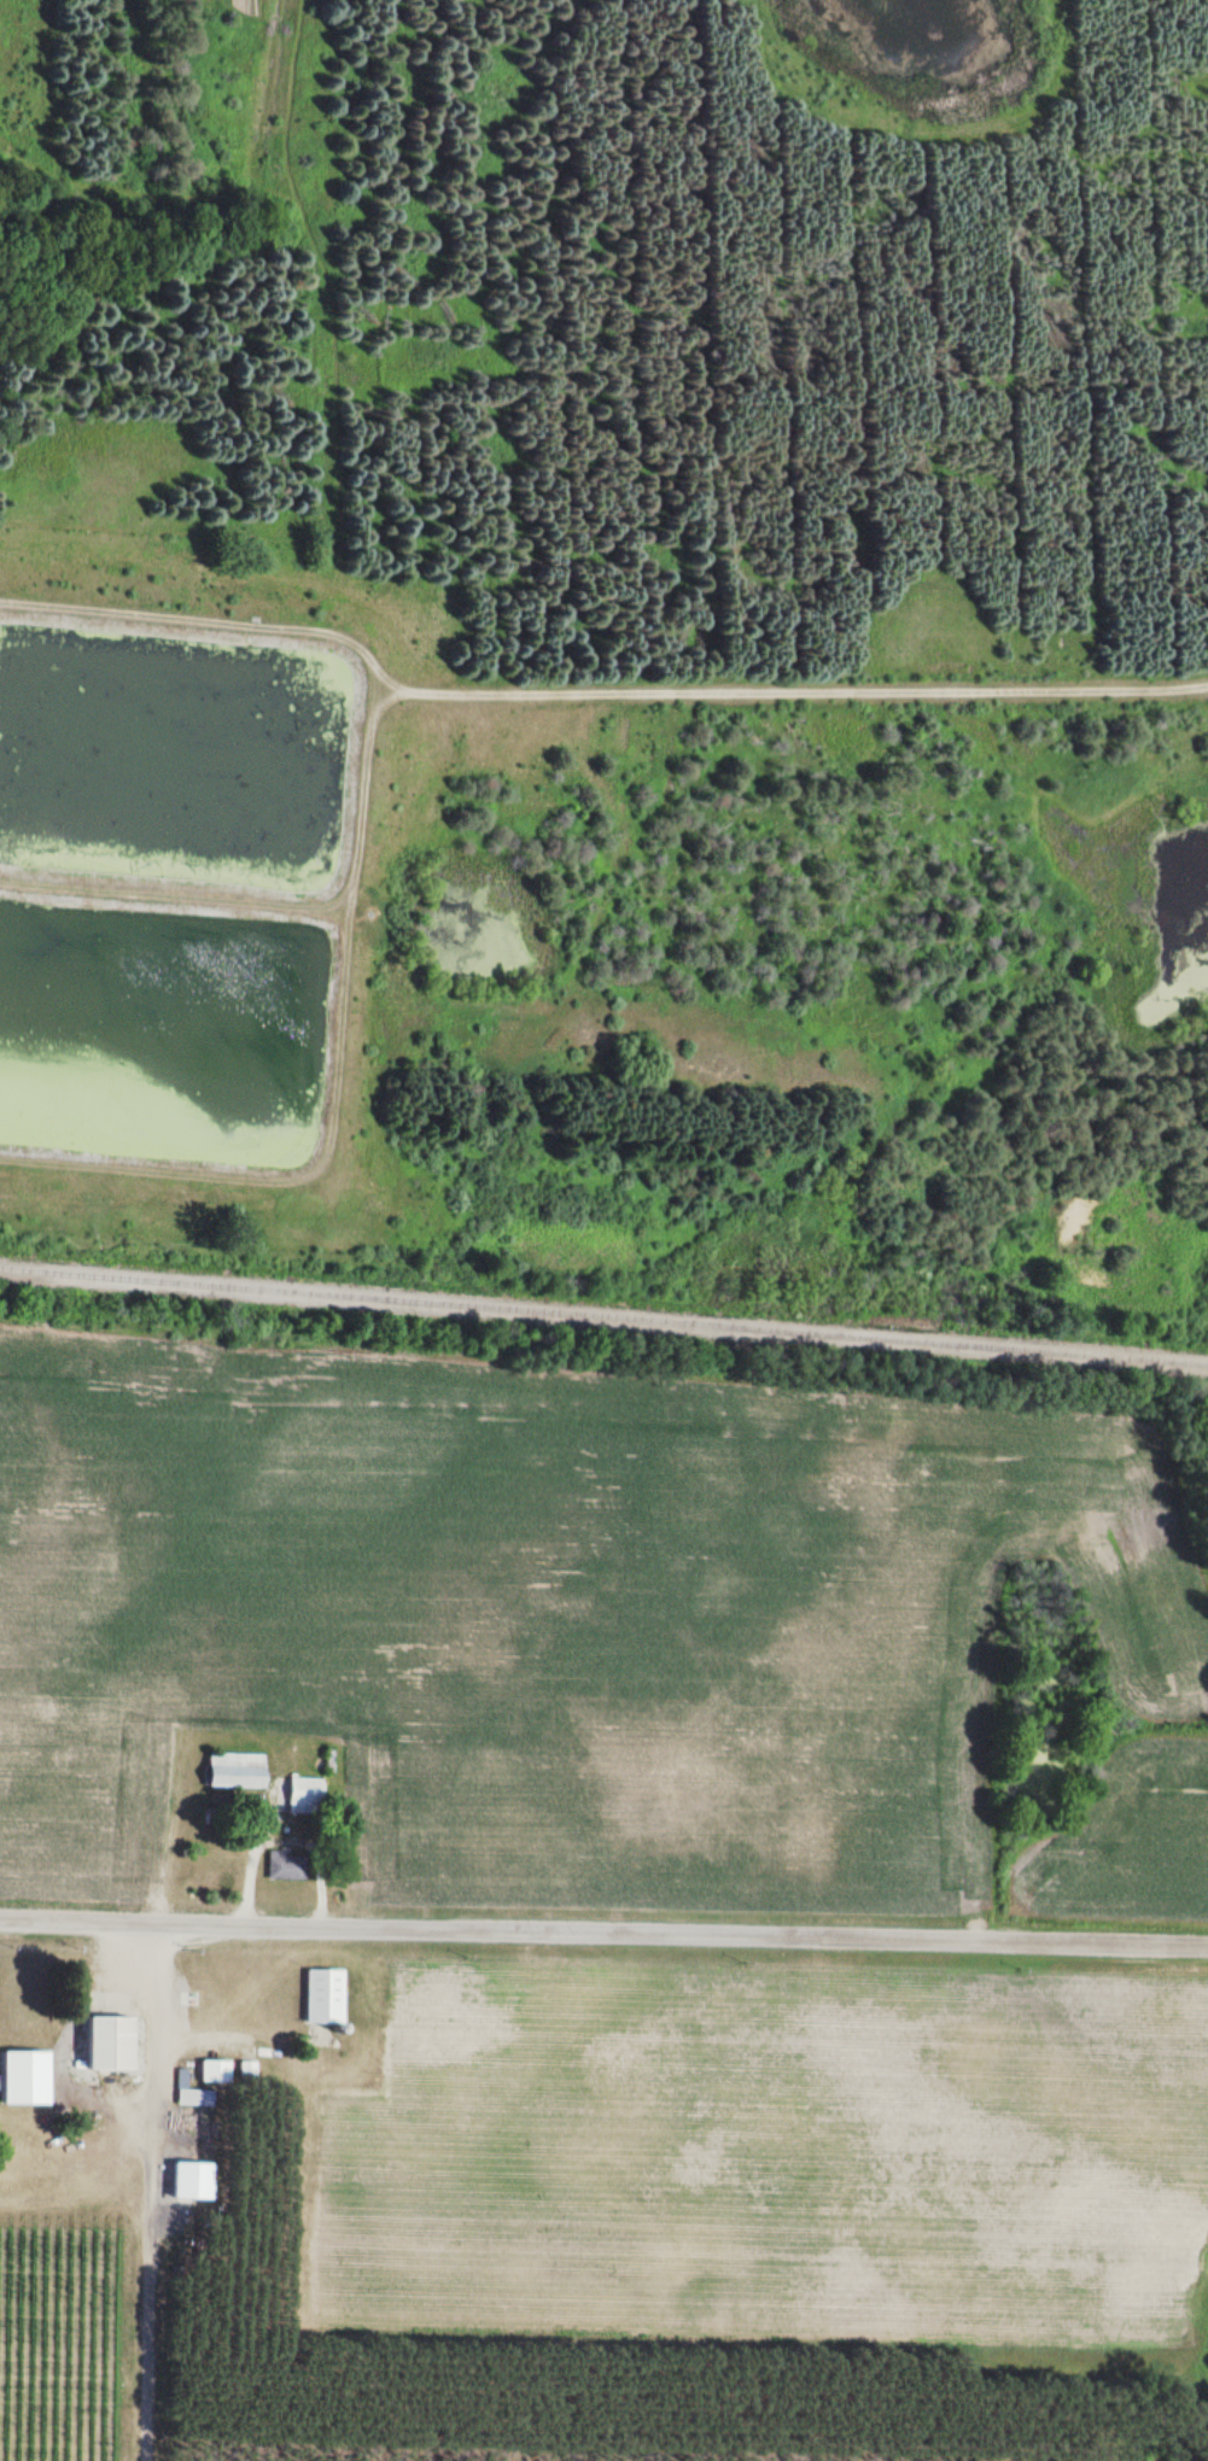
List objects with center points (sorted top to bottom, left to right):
wastewater plant: (194, 877)
railway: (603, 1311)
building: (265, 1783)
building: (287, 1865)
road: (603, 1925)
building: (326, 1995)
building: (116, 2041)
building: (216, 2070)
building: (194, 2093)

